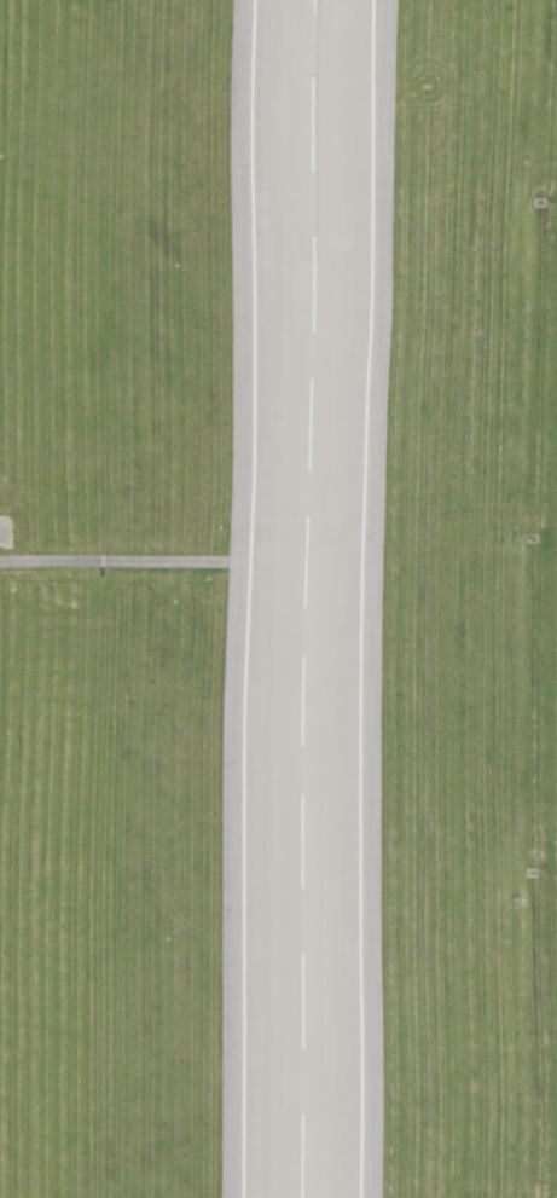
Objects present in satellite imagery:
road: (159, 557)
airport: (278, 598)
airport runway: (311, 598)

